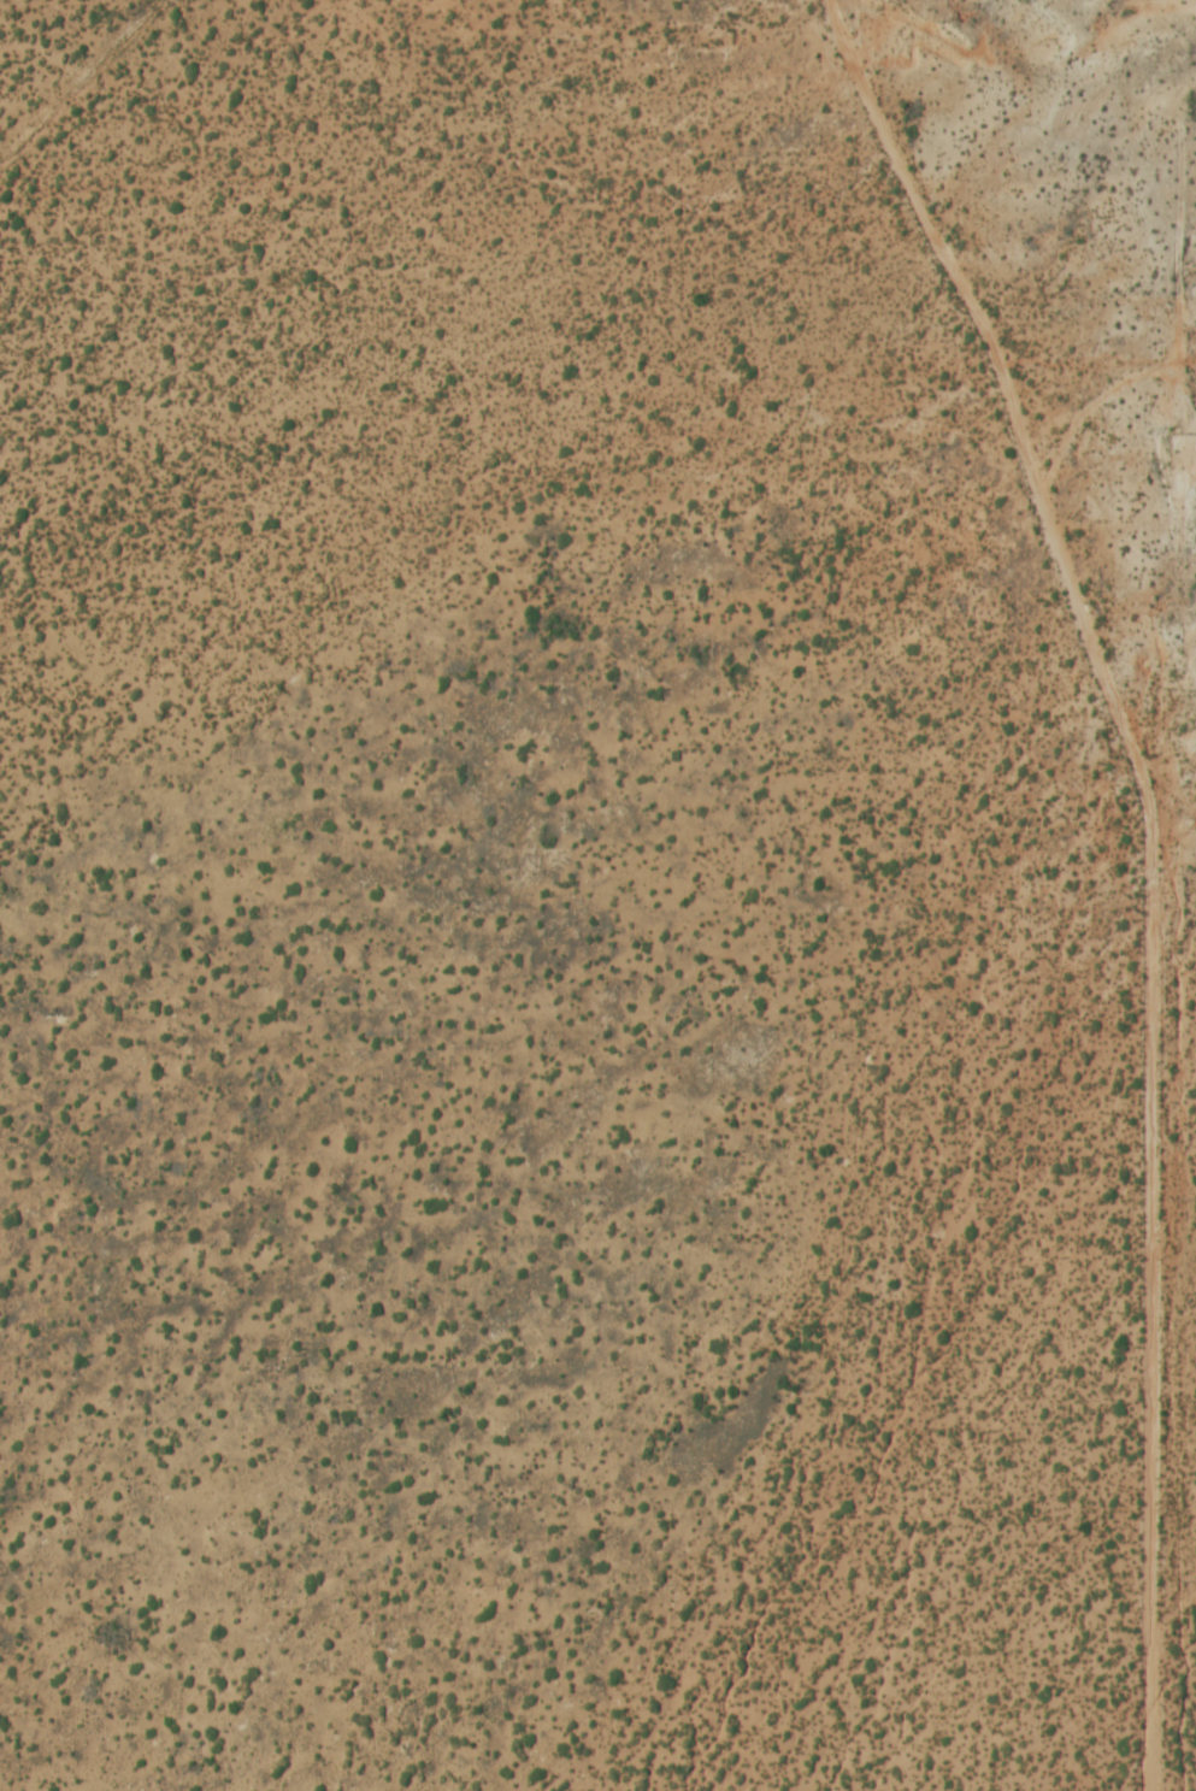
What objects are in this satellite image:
power tower: (1178, 51)
power tower: (1176, 431)
power tower: (1179, 814)
road: (1145, 861)
power tower: (1174, 1200)
power tower: (1177, 1579)

